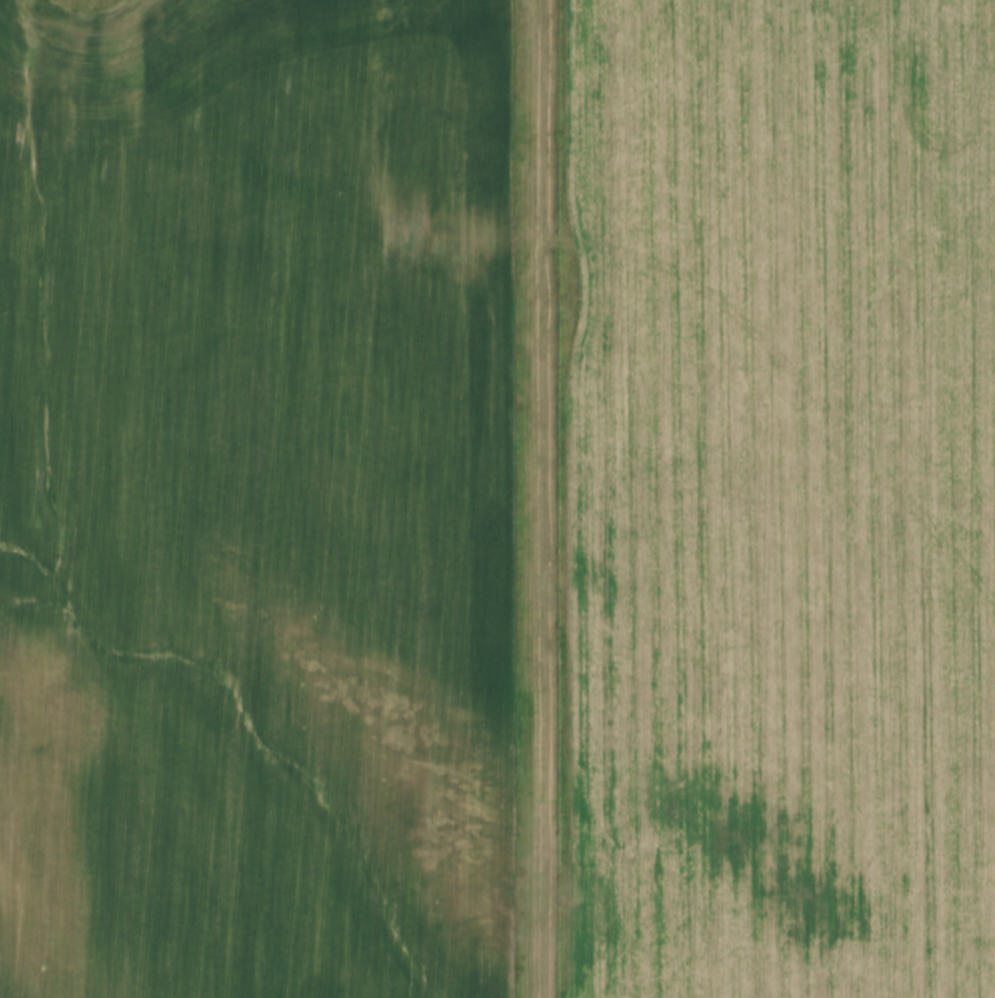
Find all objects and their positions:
road: (533, 498)

